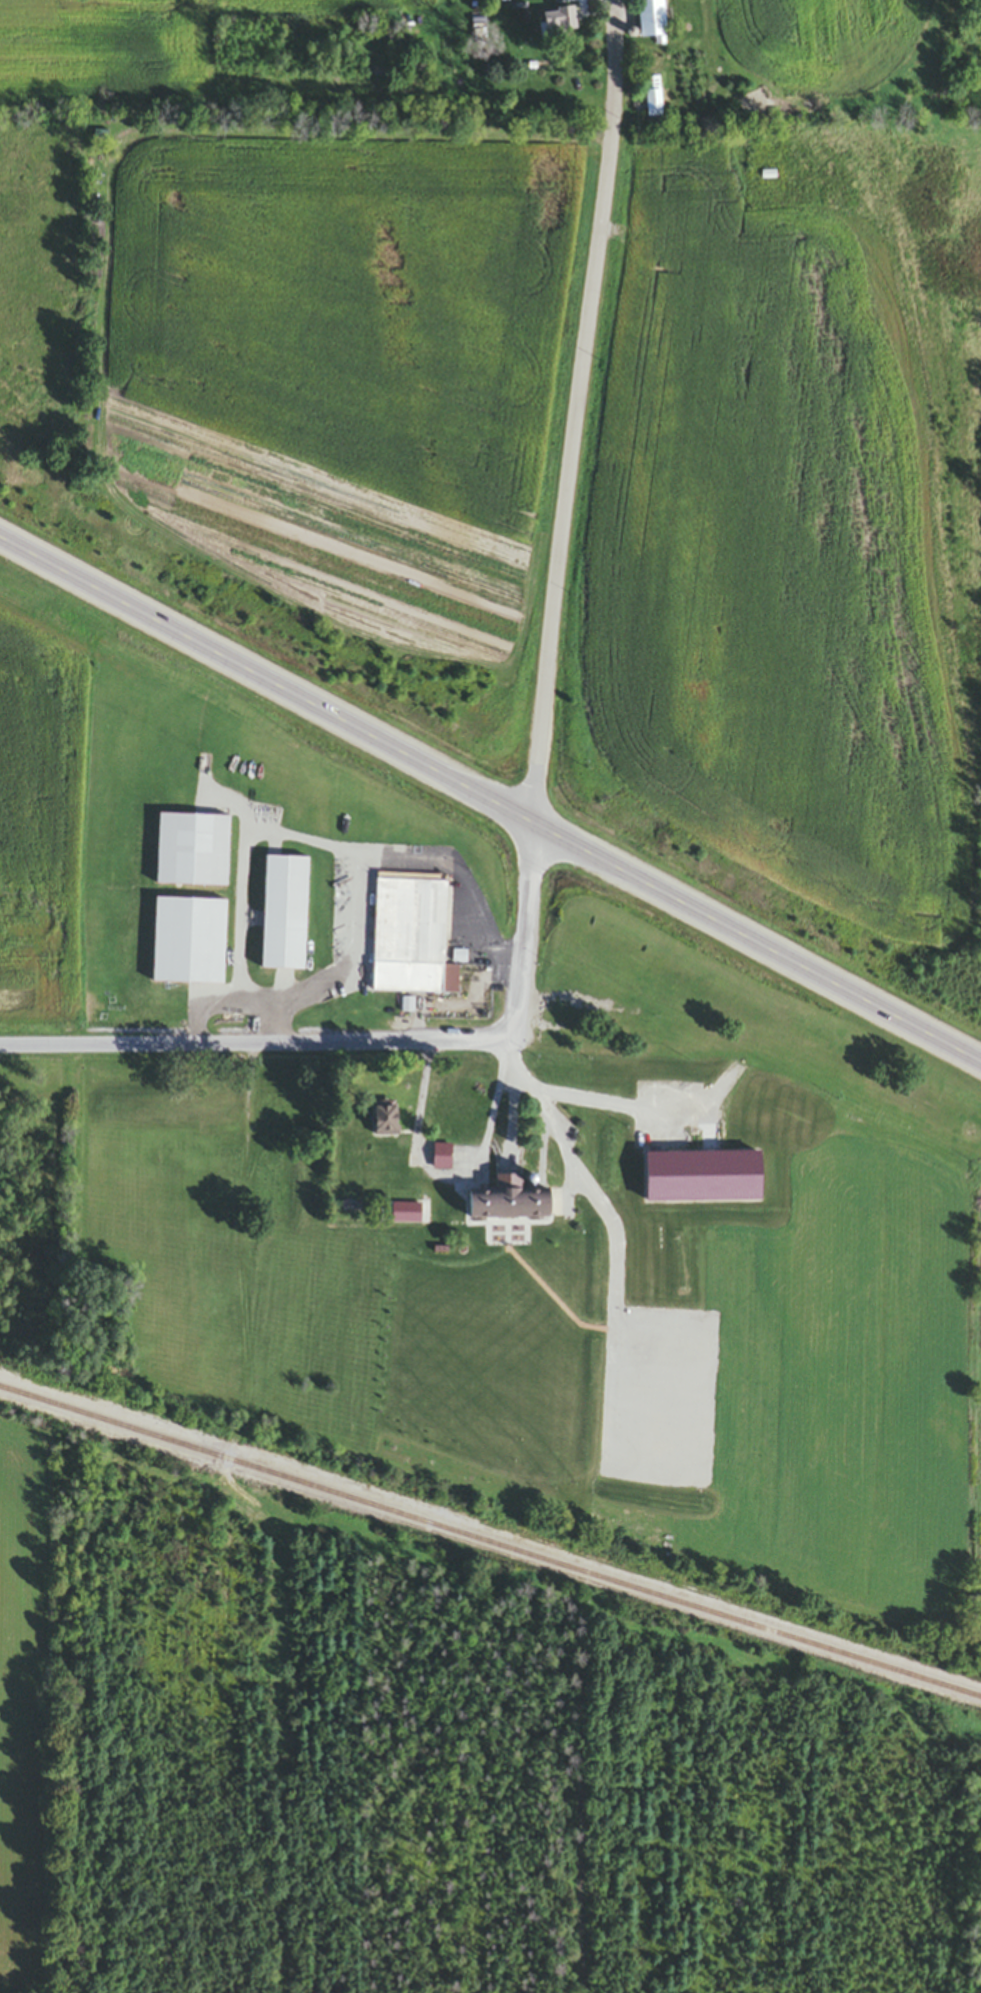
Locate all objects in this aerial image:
building: (651, 21)
building: (559, 24)
building: (652, 99)
road: (580, 410)
road: (492, 795)
building: (192, 851)
road: (461, 880)
road: (234, 910)
building: (284, 914)
road: (349, 920)
building: (411, 936)
building: (188, 942)
road: (266, 1020)
road: (365, 1043)
road: (571, 1096)
building: (384, 1120)
building: (442, 1158)
road: (434, 1176)
building: (507, 1205)
building: (406, 1214)
road: (356, 1536)
railway: (490, 1544)
road: (949, 1738)
road: (282, 1753)
road: (582, 1798)

